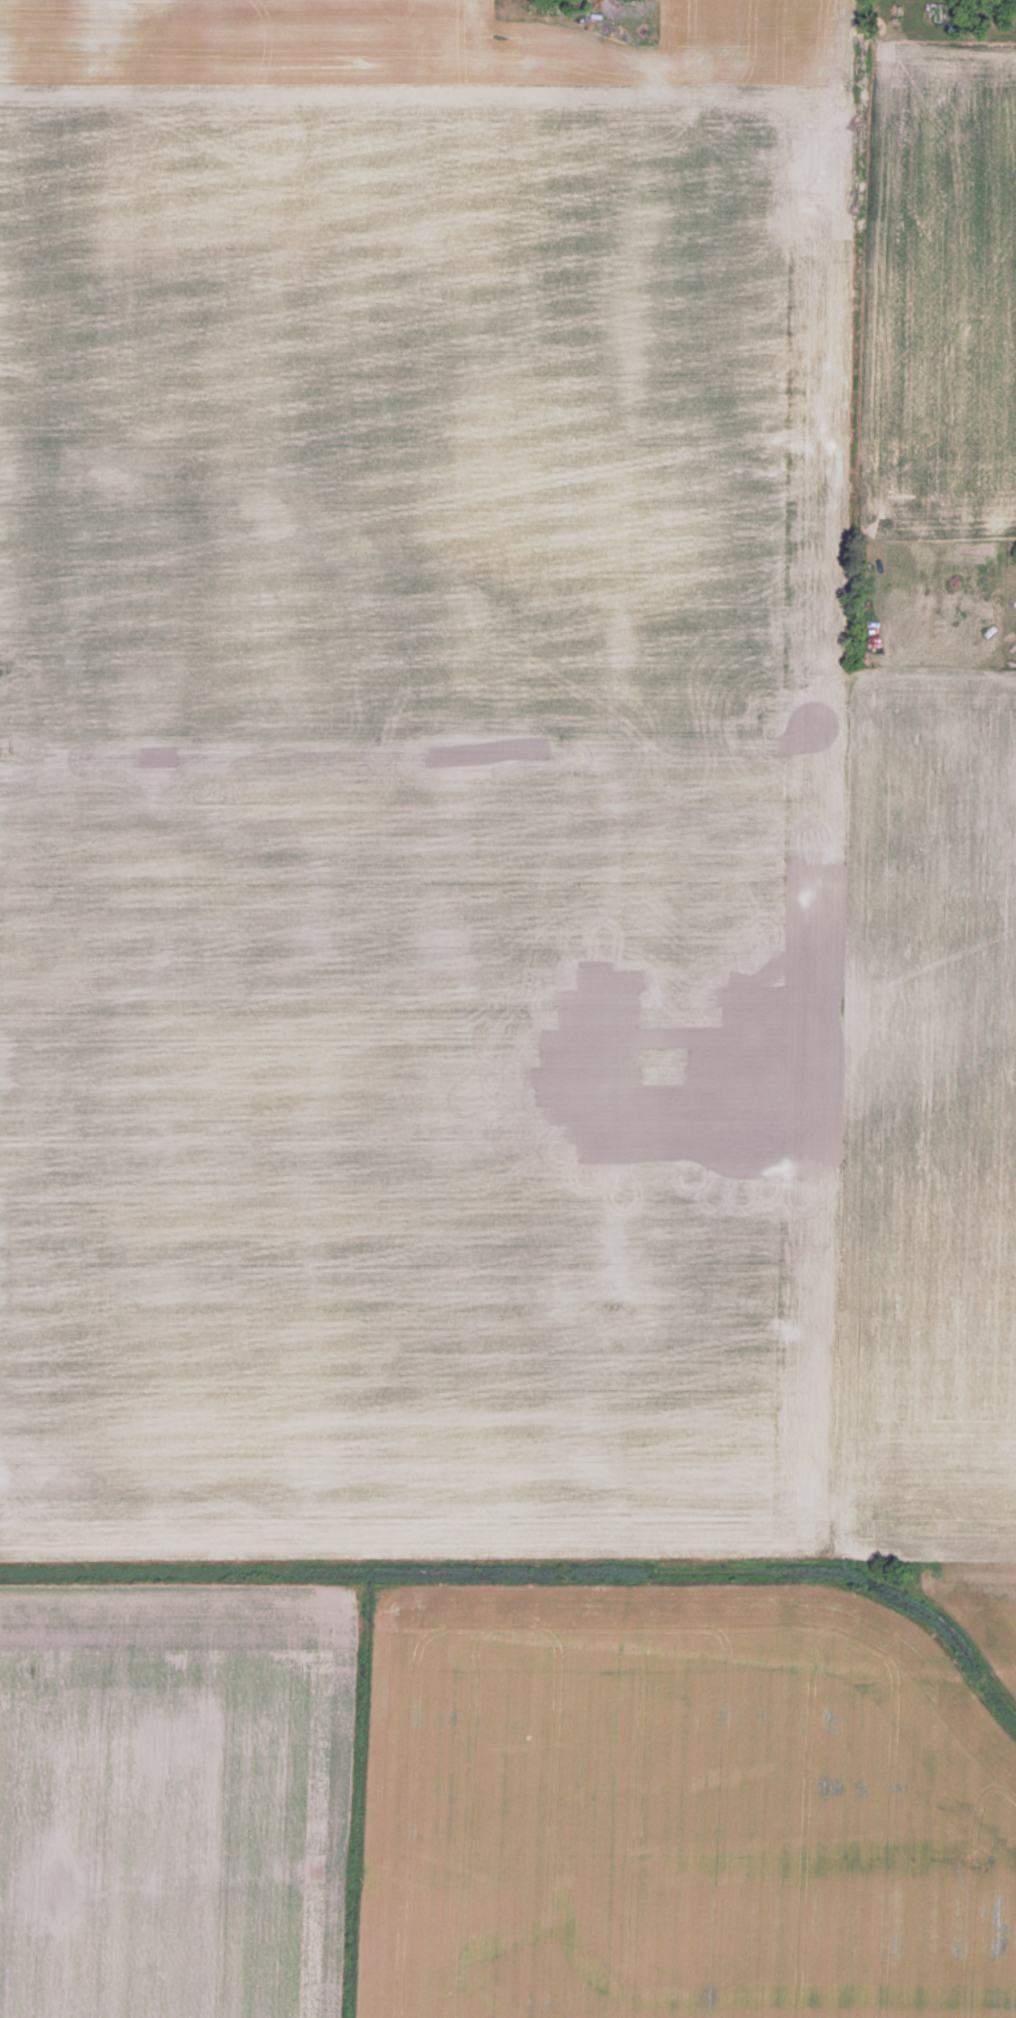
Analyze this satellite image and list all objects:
building: (1015, 0)

